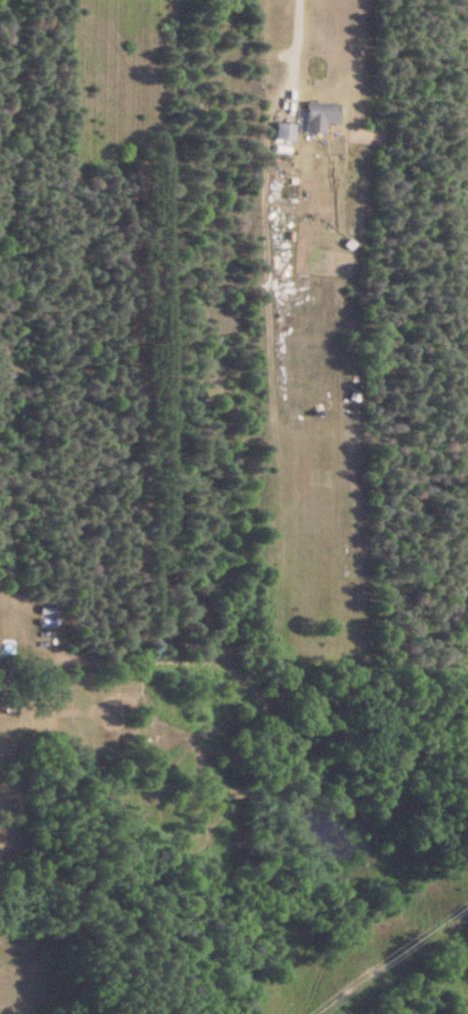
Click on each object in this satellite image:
building: (317, 117)
building: (282, 133)

